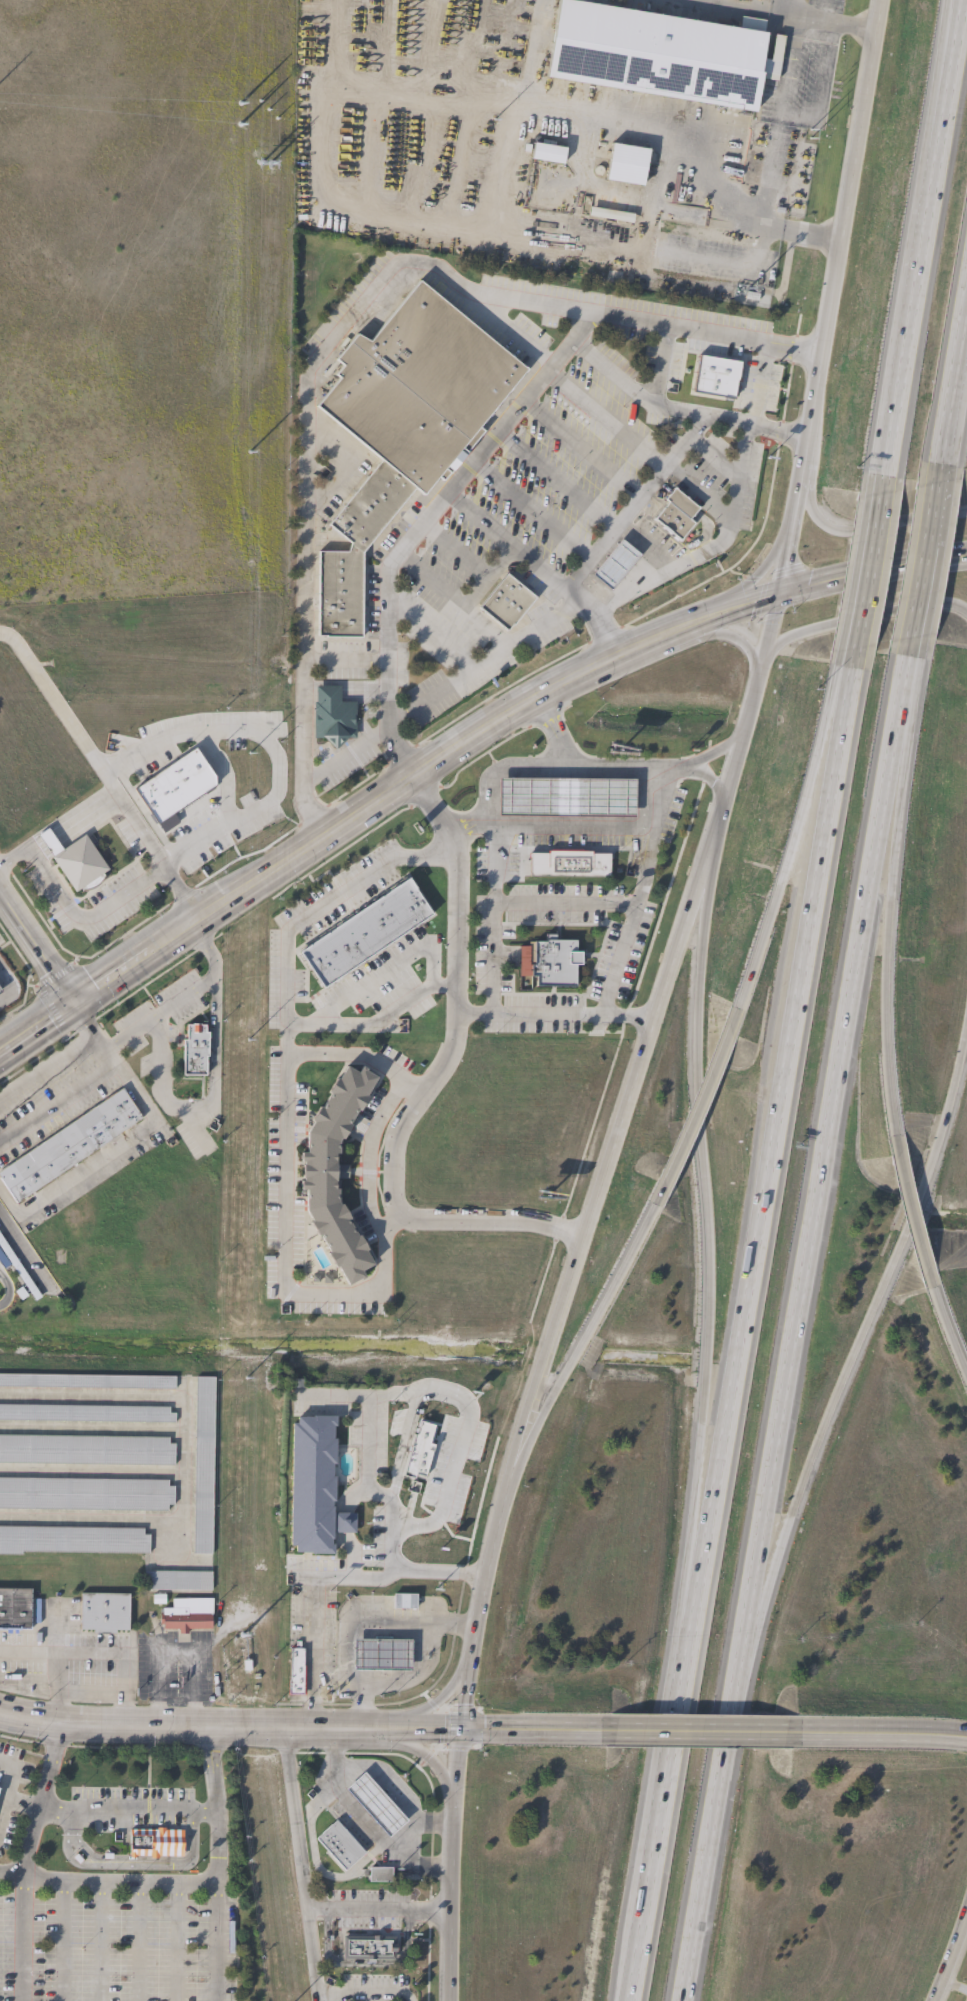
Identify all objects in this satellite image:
road: (778, 16)
road: (953, 31)
building: (659, 55)
road: (787, 66)
power tower: (263, 80)
road: (821, 87)
power tower: (160, 107)
road: (942, 114)
power tower: (491, 122)
road: (654, 123)
power tower: (818, 136)
building: (548, 153)
building: (628, 165)
road: (770, 166)
building: (613, 216)
road: (841, 233)
parking lot: (622, 302)
parking lot: (546, 320)
parking lot: (623, 332)
road: (904, 355)
parking lot: (648, 356)
parking lot: (673, 360)
road: (957, 365)
road: (540, 373)
building: (717, 376)
parking lot: (757, 384)
road: (757, 385)
road: (644, 396)
road: (703, 415)
road: (603, 419)
power tower: (258, 423)
building: (402, 425)
road: (304, 440)
road: (580, 448)
parking lot: (572, 458)
parking lot: (711, 459)
road: (800, 478)
road: (555, 479)
parking lot: (748, 485)
road: (635, 505)
road: (794, 505)
road: (531, 510)
building: (674, 513)
road: (873, 523)
road: (930, 533)
parking lot: (654, 534)
road: (873, 534)
road: (713, 547)
road: (785, 558)
gas station: (613, 563)
building: (614, 564)
parking lot: (372, 581)
road: (748, 584)
parking lot: (537, 585)
traffic signals: (779, 593)
building: (504, 601)
road: (859, 614)
road: (859, 615)
parking lot: (453, 620)
road: (387, 627)
road: (734, 637)
road: (853, 647)
road: (487, 658)
parking lot: (342, 659)
building: (330, 716)
road: (743, 726)
road: (195, 732)
road: (455, 746)
road: (342, 756)
parking lot: (344, 757)
road: (609, 768)
road: (499, 770)
power tower: (251, 773)
road: (224, 774)
parking lot: (218, 776)
road: (114, 786)
building: (525, 797)
building: (602, 797)
road: (655, 797)
road: (137, 829)
road: (794, 830)
road: (44, 838)
road: (647, 844)
road: (17, 855)
building: (71, 860)
building: (567, 864)
parking lot: (103, 885)
road: (493, 893)
road: (562, 905)
road: (312, 912)
road: (82, 916)
building: (363, 932)
road: (886, 938)
parking lot: (0, 940)
road: (37, 946)
building: (553, 962)
road: (383, 971)
road: (5, 988)
building: (1, 991)
road: (183, 995)
road: (659, 1005)
road: (553, 1013)
road: (374, 1023)
building: (192, 1050)
road: (48, 1067)
road: (422, 1082)
road: (701, 1097)
road: (204, 1102)
road: (58, 1104)
road: (950, 1113)
road: (774, 1118)
road: (130, 1135)
building: (71, 1146)
road: (368, 1154)
road: (824, 1164)
building: (317, 1176)
road: (284, 1192)
road: (909, 1215)
road: (704, 1222)
road: (909, 1228)
power tower: (245, 1242)
road: (560, 1312)
road: (947, 1326)
road: (589, 1329)
building: (88, 1382)
road: (466, 1404)
building: (86, 1413)
building: (87, 1449)
building: (205, 1466)
road: (803, 1476)
building: (318, 1487)
building: (86, 1493)
road: (380, 1496)
building: (73, 1539)
road: (486, 1567)
building: (179, 1580)
building: (407, 1600)
building: (16, 1608)
building: (106, 1611)
road: (311, 1615)
building: (186, 1618)
road: (352, 1620)
power tower: (238, 1651)
road: (96, 1653)
building: (386, 1654)
gas station: (386, 1654)
building: (298, 1672)
road: (53, 1690)
road: (462, 1695)
road: (435, 1702)
road: (304, 1730)
road: (704, 1730)
traffic signals: (458, 1731)
road: (727, 1731)
road: (882, 1731)
road: (433, 1767)
road: (377, 1784)
road: (5, 1793)
road: (663, 1793)
building: (372, 1804)
gas station: (372, 1804)
road: (36, 1810)
road: (125, 1811)
building: (157, 1843)
building: (343, 1846)
road: (212, 1864)
road: (297, 1865)
road: (450, 1865)
road: (407, 1866)
building: (383, 1875)
road: (114, 1883)
road: (701, 1890)
road: (376, 1909)
road: (18, 1939)
road: (59, 1940)
road: (169, 1941)
road: (93, 1942)
road: (136, 1942)
building: (371, 1948)
road: (950, 1959)
road: (954, 1984)
road: (362, 1994)

